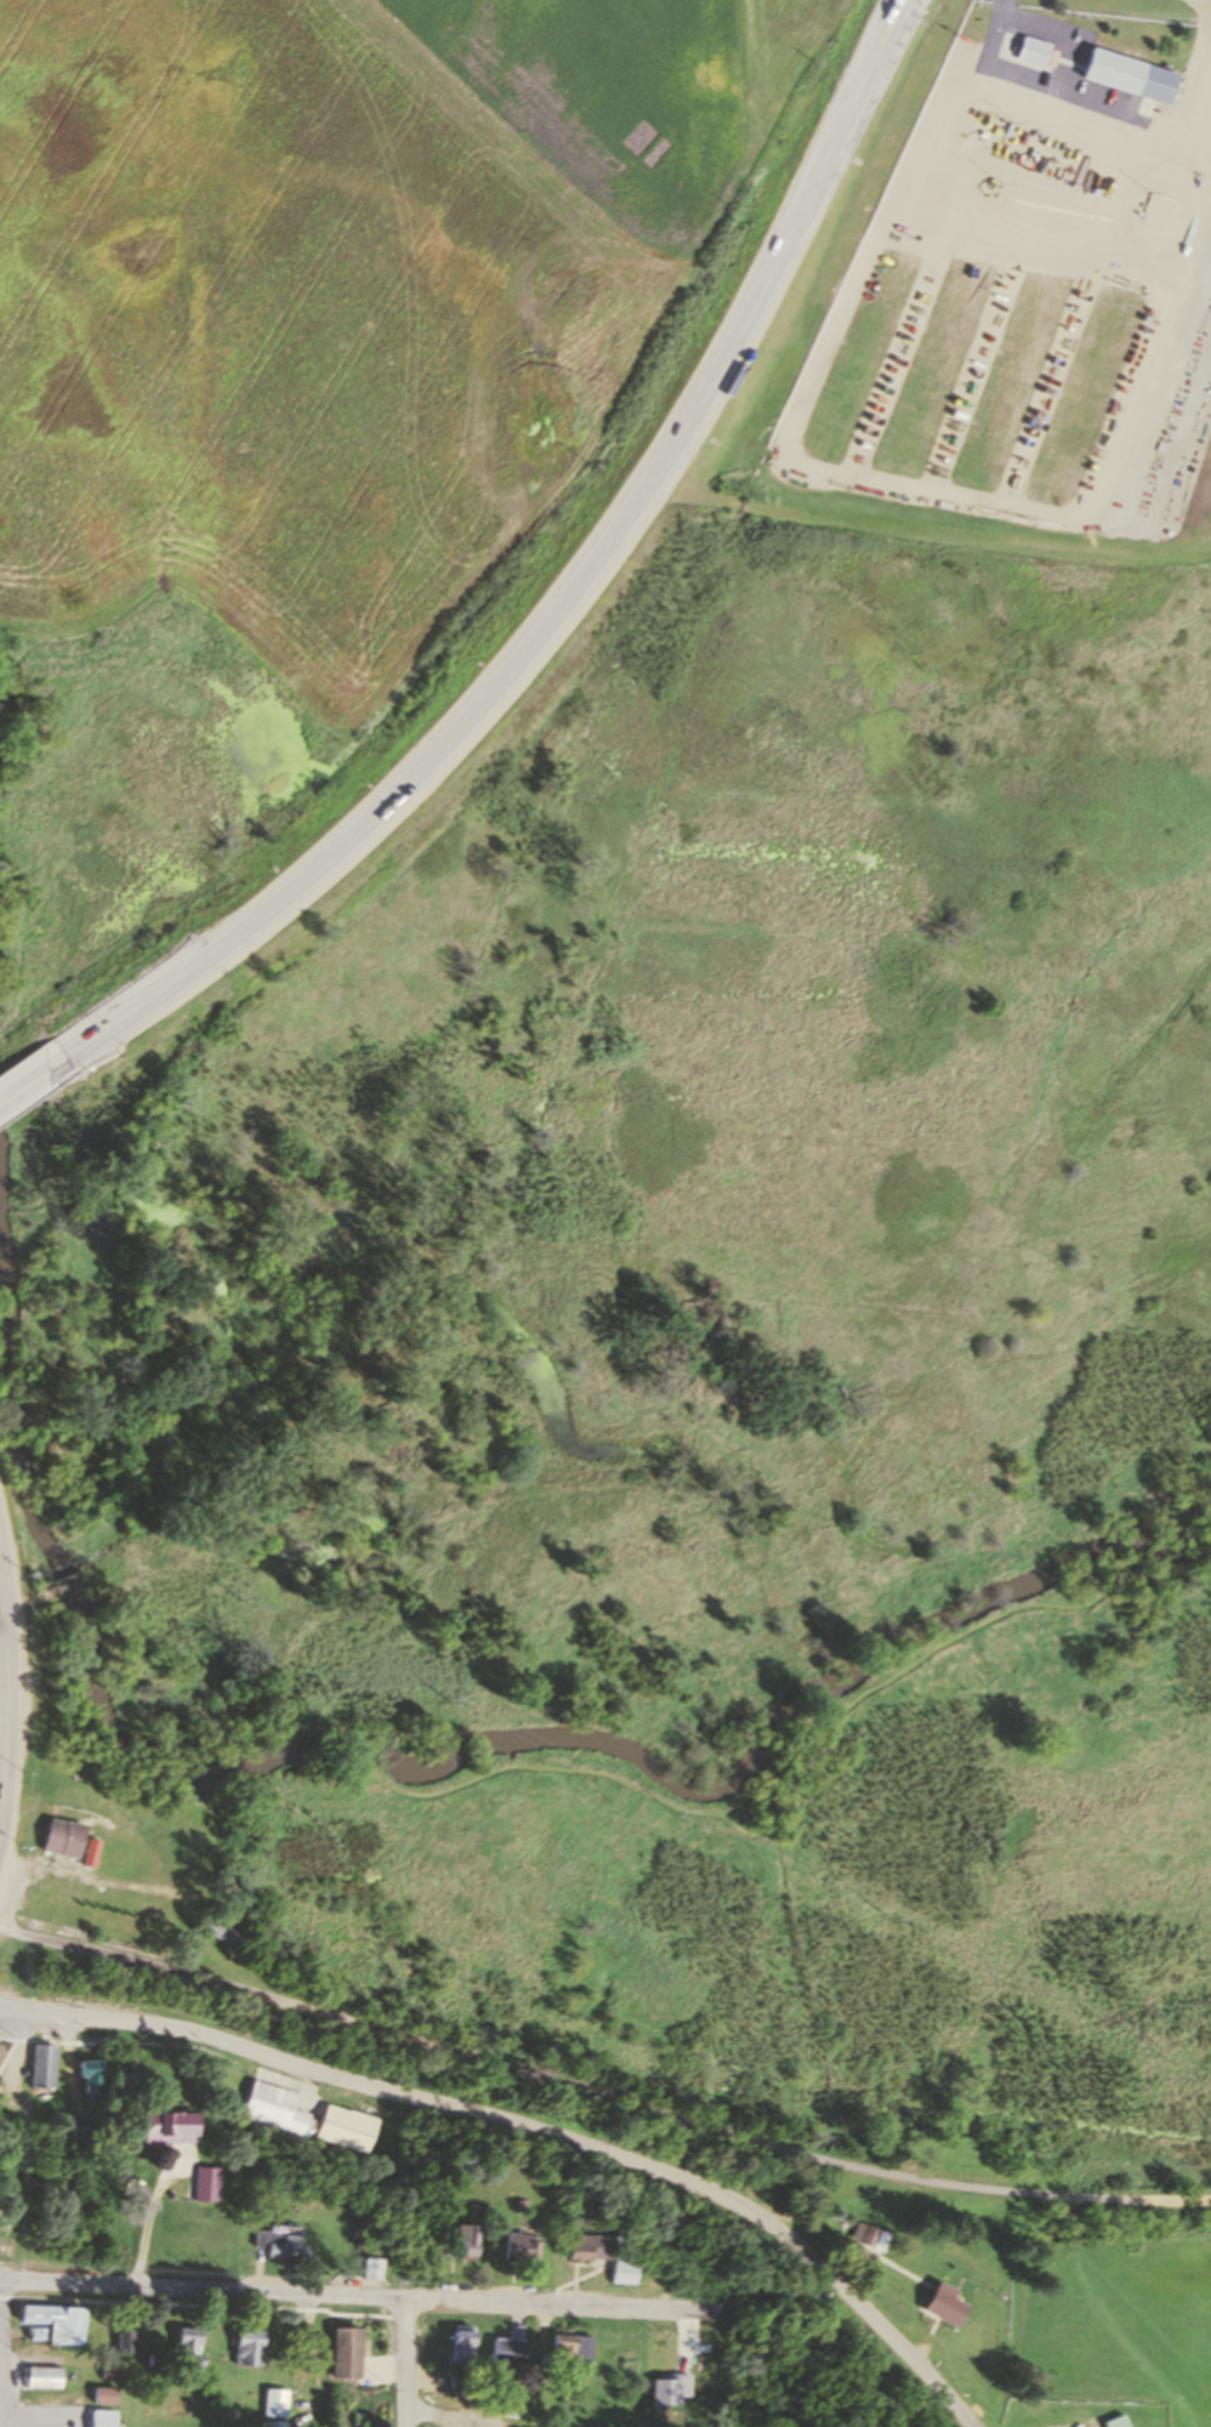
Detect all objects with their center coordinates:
road: (994, 33)
building: (1029, 50)
building: (1124, 75)
road: (1193, 83)
road: (931, 532)
road: (563, 609)
road: (21, 1081)
road: (2, 1607)
road: (5, 1695)
road: (688, 1806)
building: (58, 1836)
road: (153, 1859)
building: (218, 1931)
building: (44, 2065)
building: (91, 2074)
road: (598, 2097)
building: (274, 2107)
building: (80, 2120)
building: (163, 2126)
building: (346, 2127)
road: (531, 2130)
building: (204, 2182)
road: (149, 2217)
building: (868, 2236)
building: (462, 2241)
building: (278, 2245)
building: (516, 2246)
building: (585, 2246)
building: (369, 2269)
building: (619, 2272)
road: (353, 2296)
building: (942, 2303)
road: (204, 2304)
building: (56, 2321)
building: (123, 2338)
building: (461, 2342)
building: (189, 2344)
building: (249, 2347)
building: (507, 2347)
building: (569, 2347)
building: (343, 2352)
road: (1, 2353)
road: (406, 2363)
building: (42, 2375)
building: (663, 2389)
building: (104, 2393)
building: (275, 2402)
parking lot: (479, 2412)
building: (103, 2417)
building: (1118, 2421)

